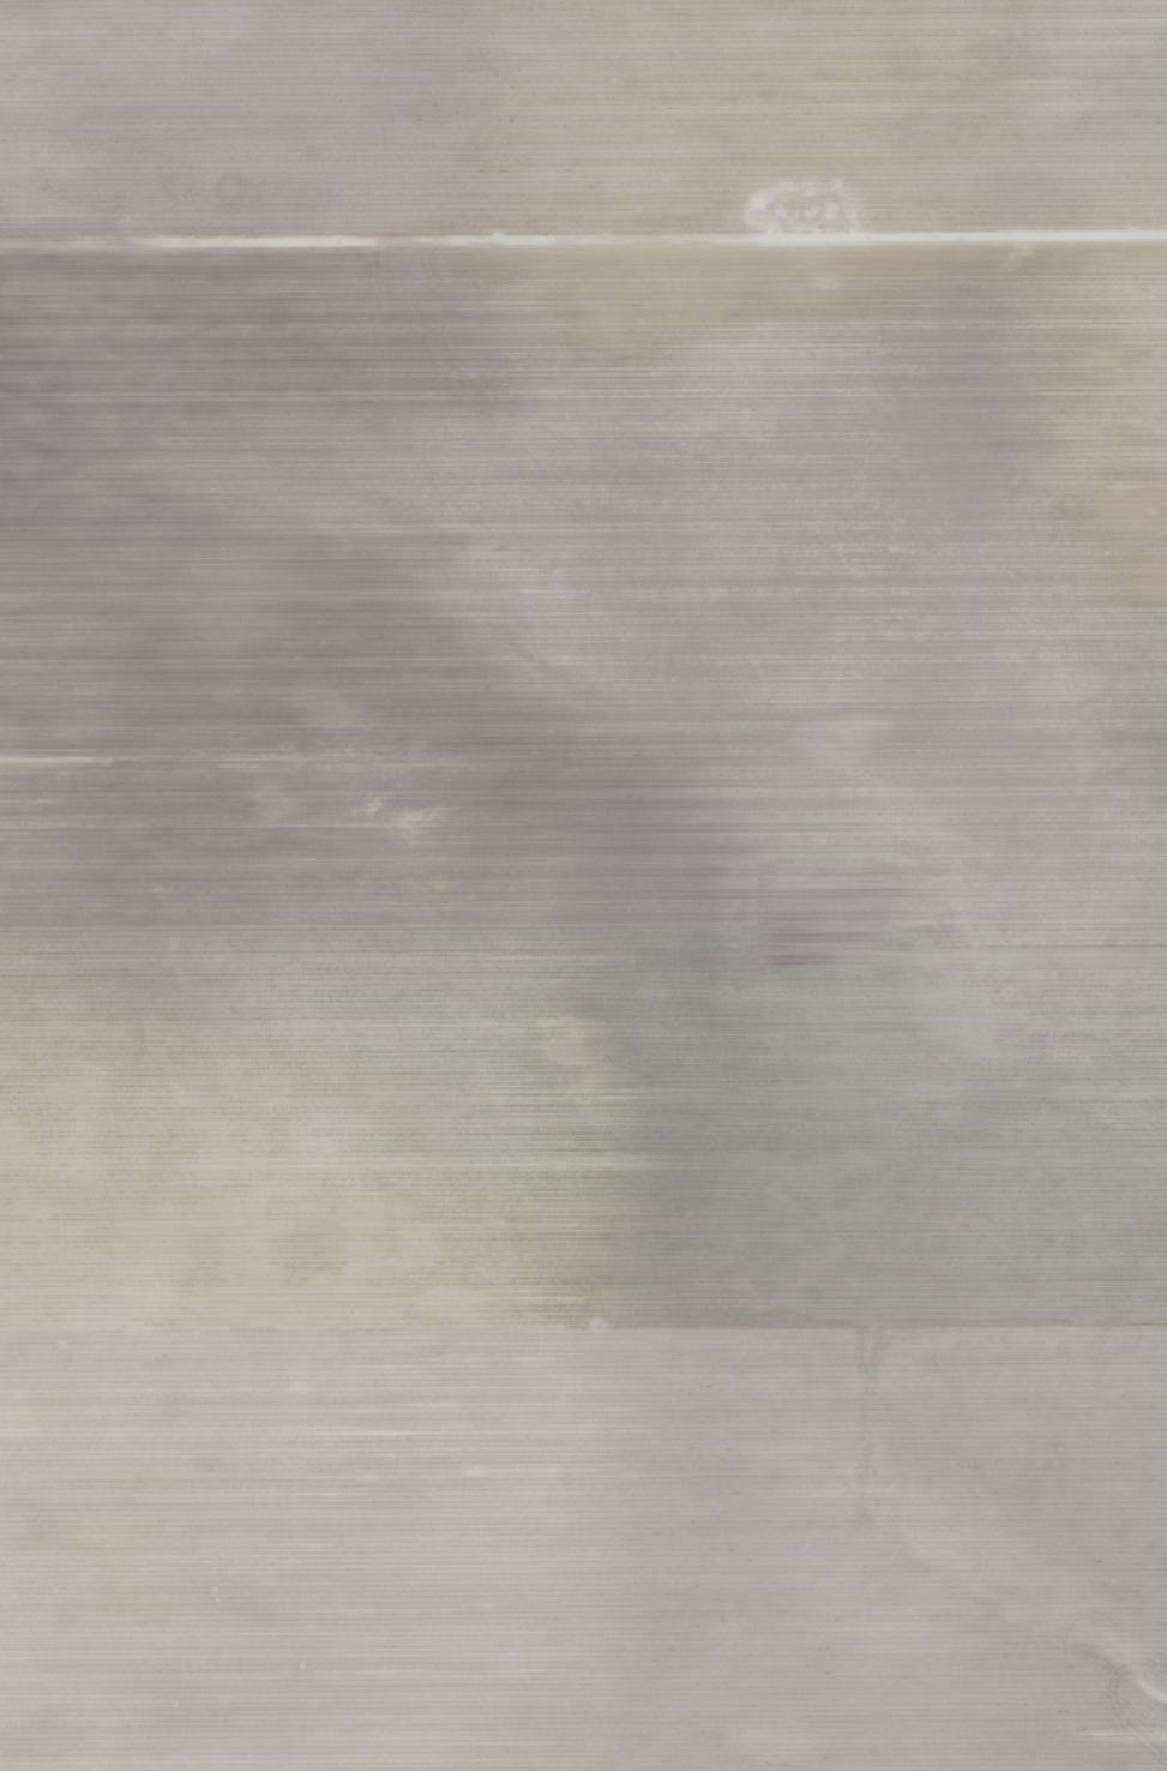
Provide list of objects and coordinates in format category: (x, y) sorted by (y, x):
road: (988, 230)

